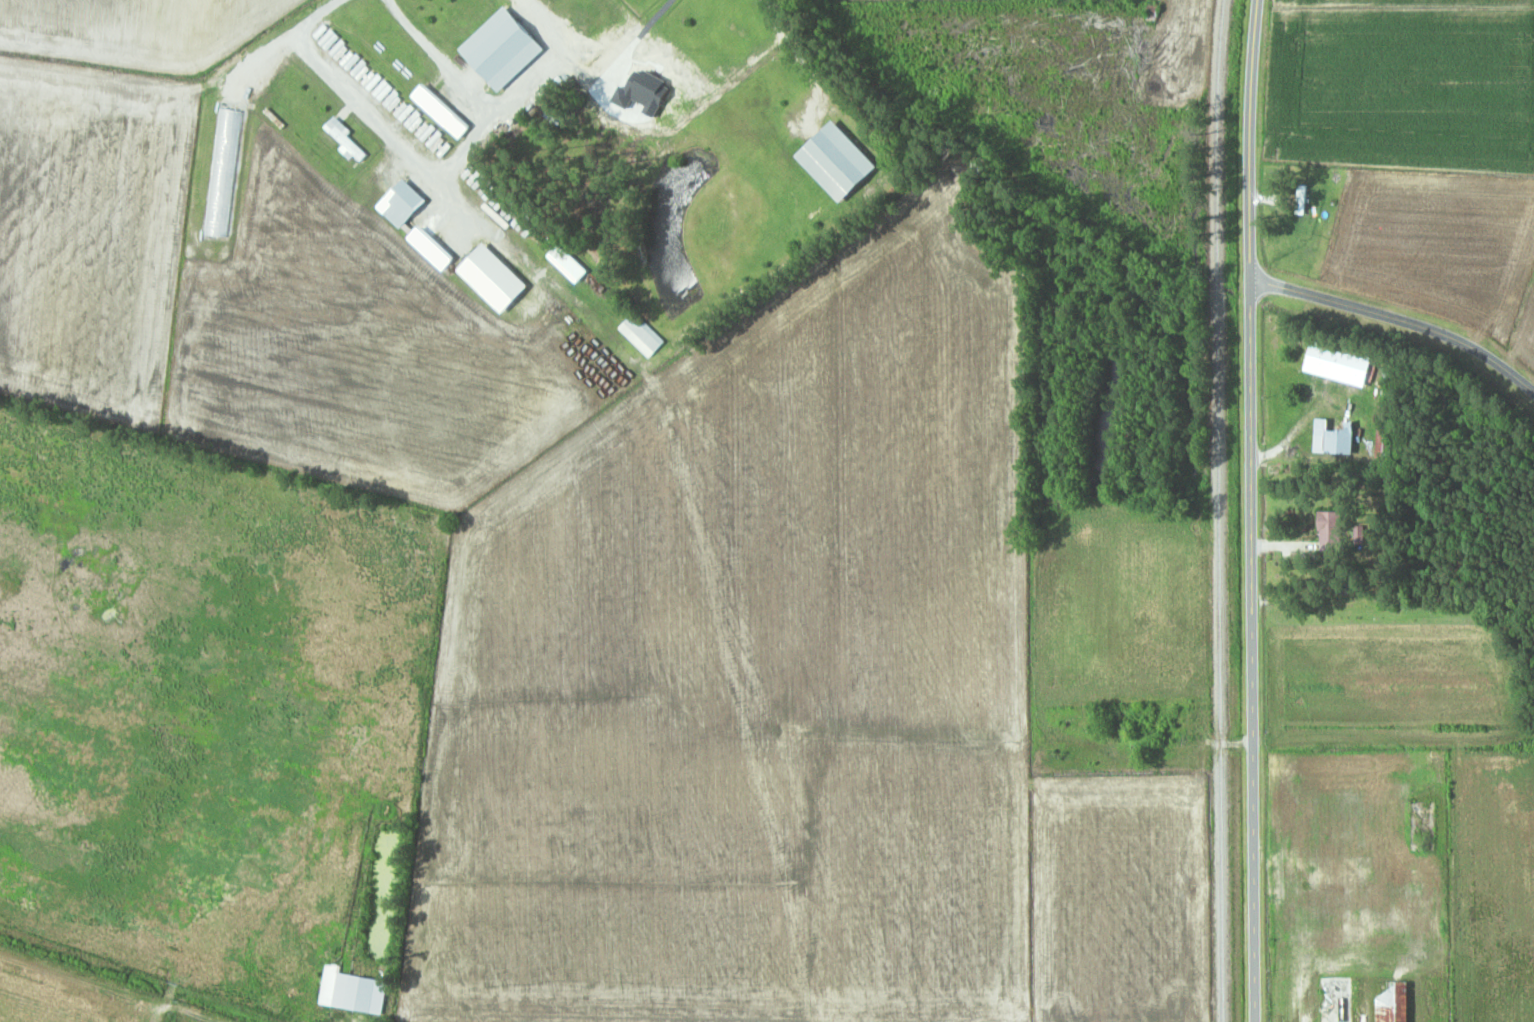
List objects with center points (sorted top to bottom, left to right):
building: (504, 49)
building: (443, 112)
building: (349, 144)
building: (839, 162)
building: (224, 165)
building: (404, 205)
road: (1399, 320)
building: (642, 335)
building: (1346, 370)
building: (1383, 432)
building: (1336, 437)
railway: (1219, 510)
road: (1251, 510)
building: (1331, 533)
building: (1399, 874)
building: (361, 993)
building: (1394, 1001)

